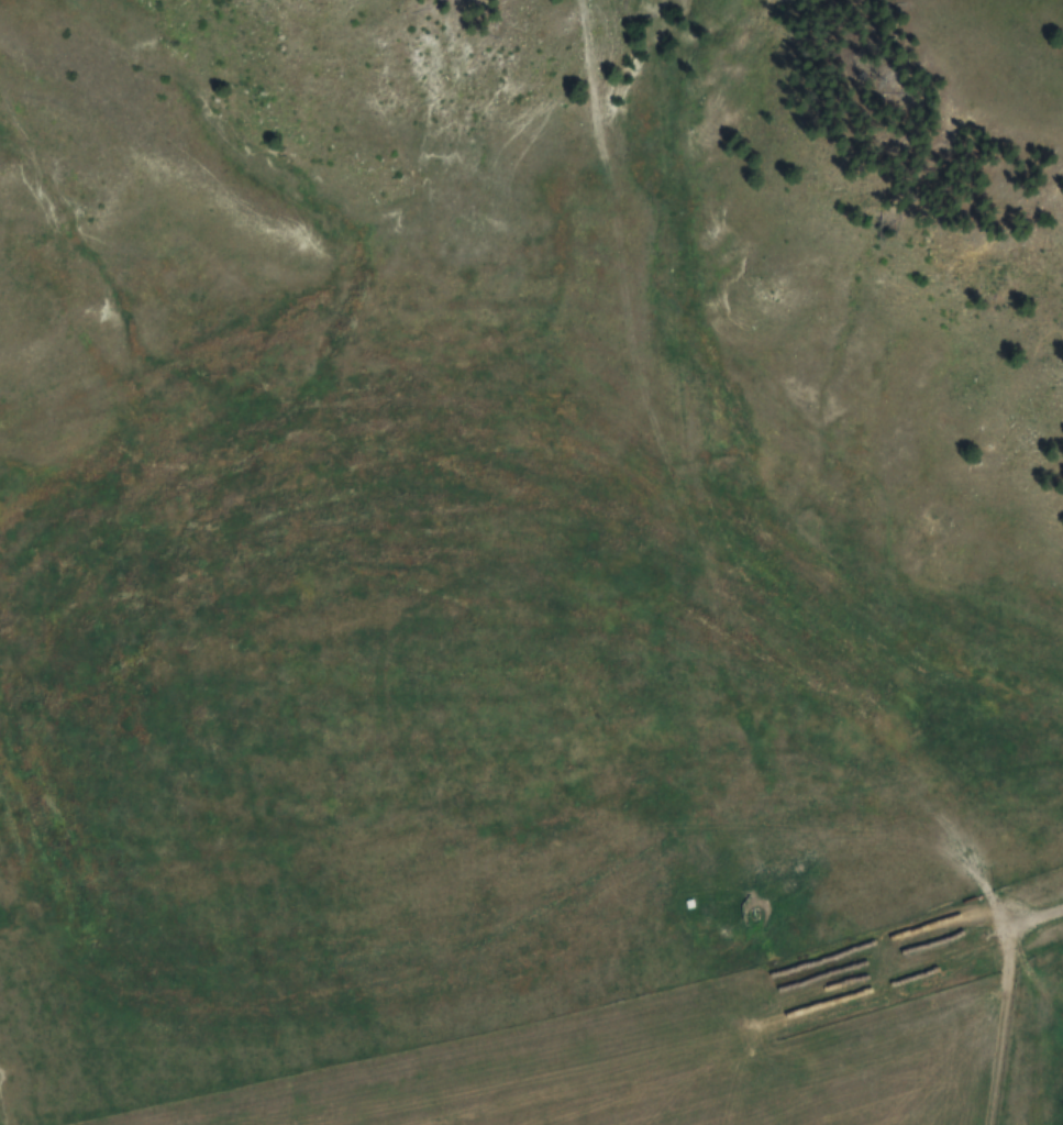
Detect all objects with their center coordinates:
road: (1036, 915)
building: (908, 950)

